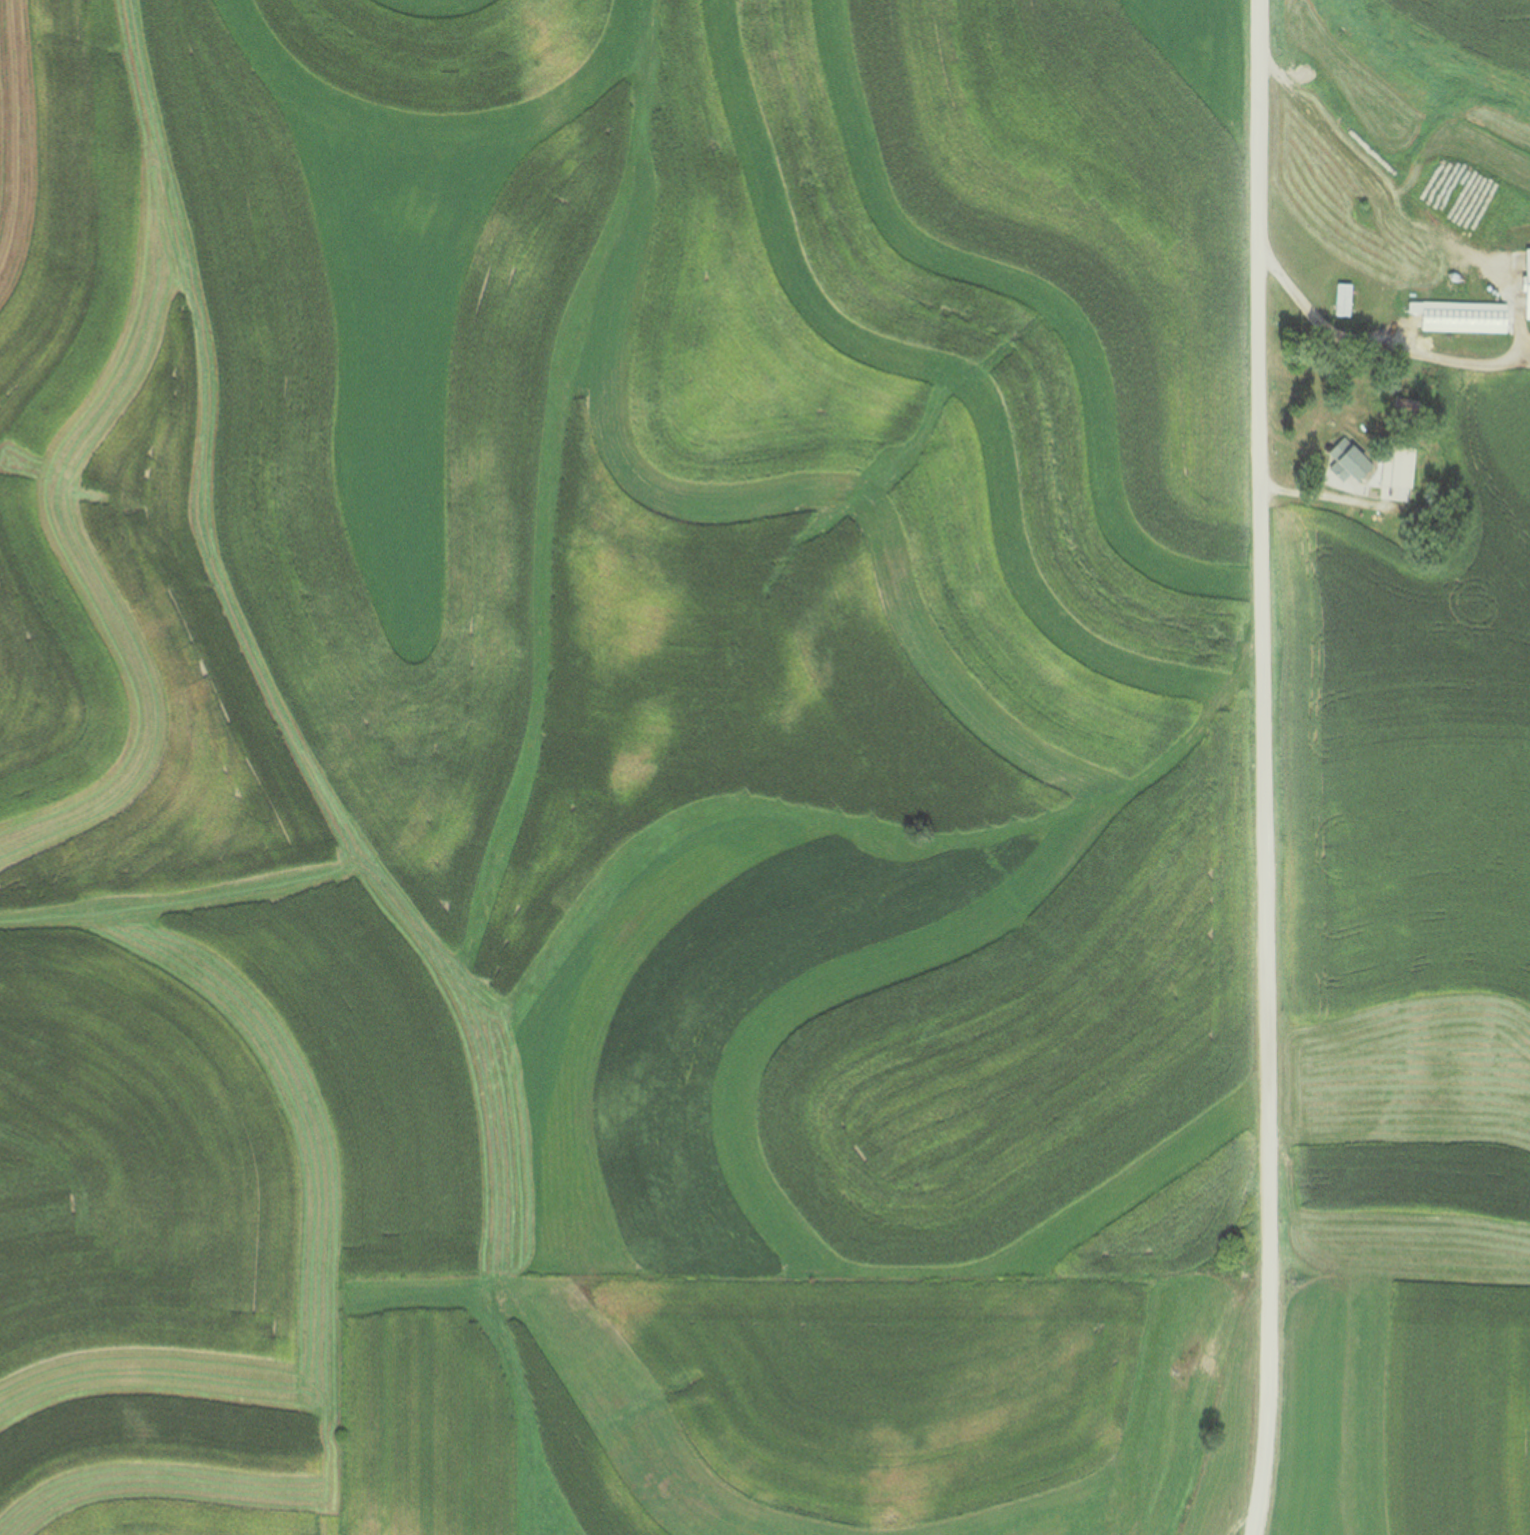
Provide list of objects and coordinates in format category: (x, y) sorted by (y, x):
building: (1341, 299)
road: (1510, 300)
building: (1456, 315)
building: (1342, 460)
building: (1395, 466)
road: (1257, 767)

